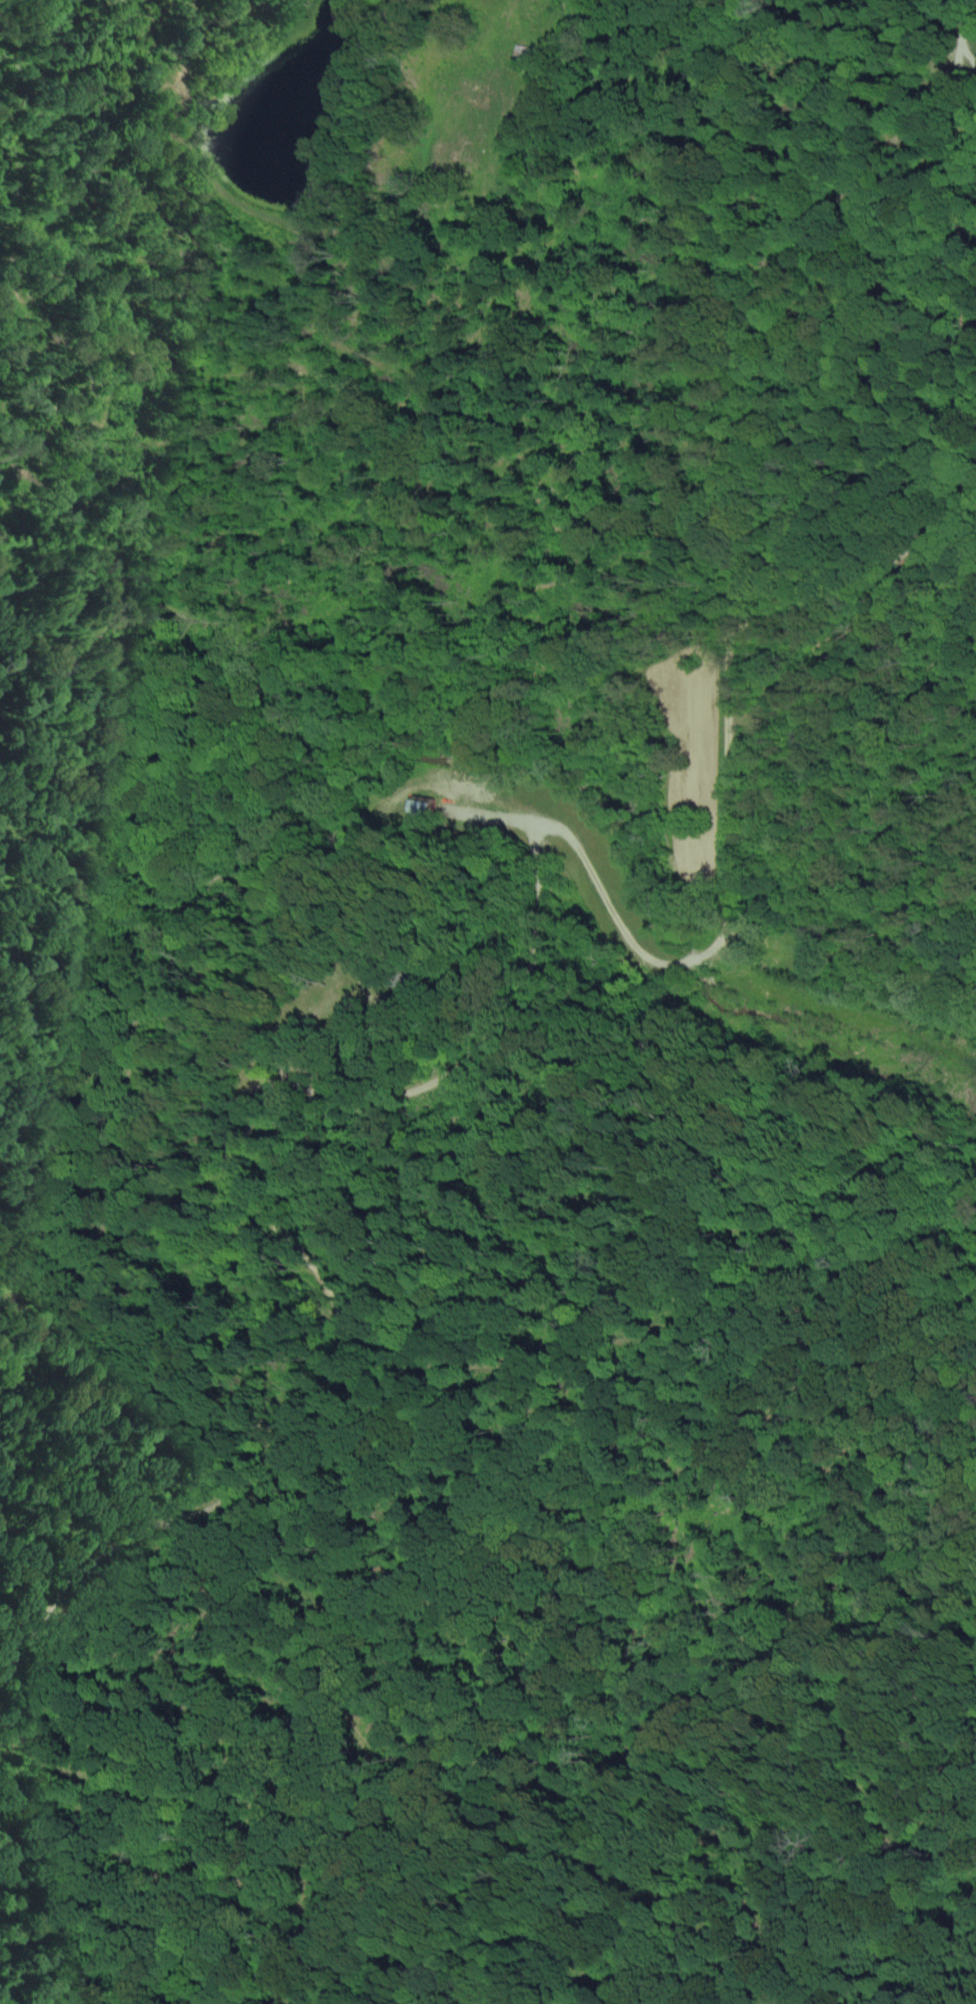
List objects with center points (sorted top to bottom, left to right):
road: (730, 816)
road: (450, 1070)

